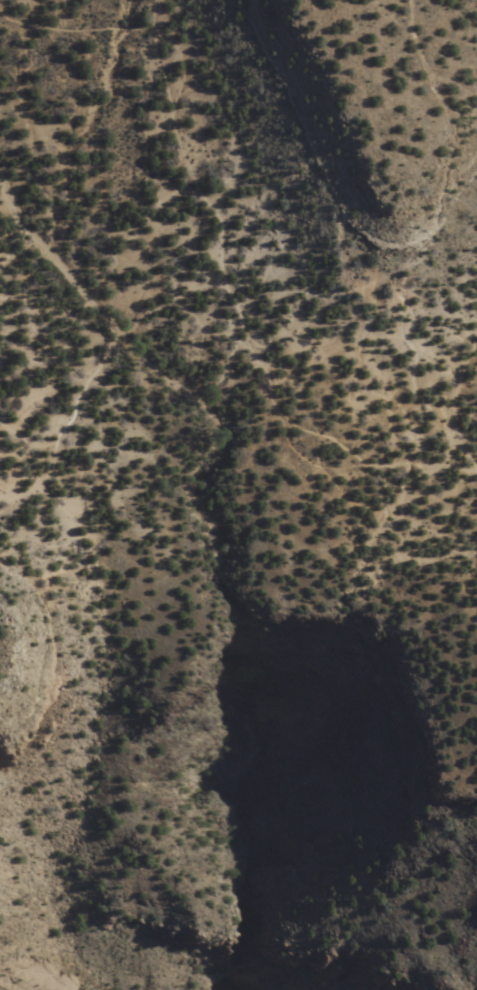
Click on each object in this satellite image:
road: (437, 172)
road: (215, 225)
road: (343, 347)
road: (303, 433)
road: (33, 482)
road: (91, 635)

